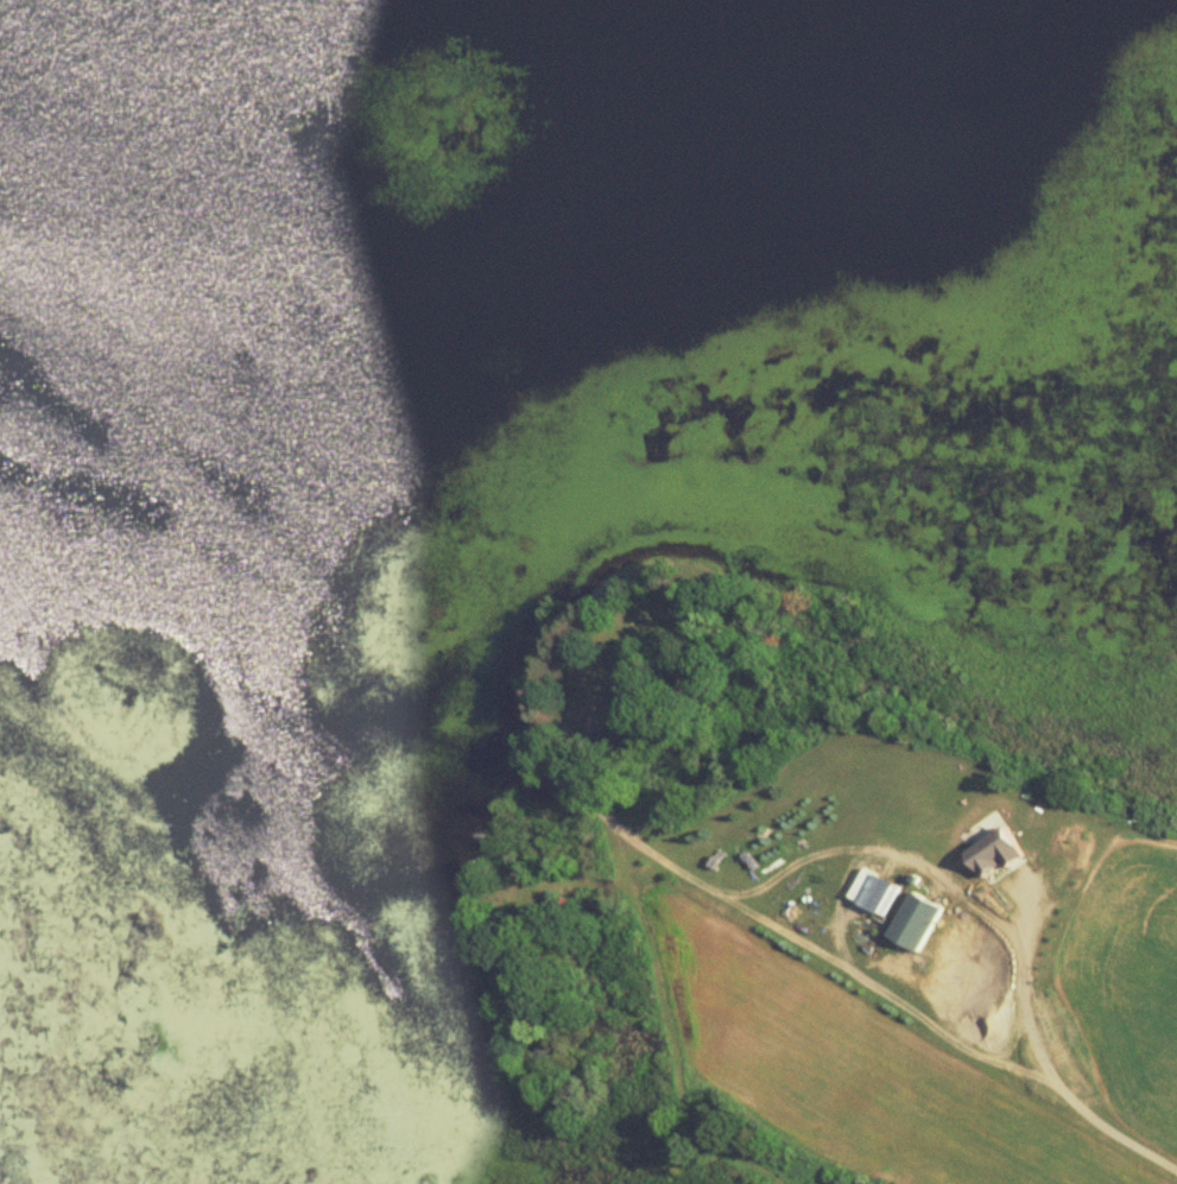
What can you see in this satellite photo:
road: (646, 944)
road: (1053, 1065)

